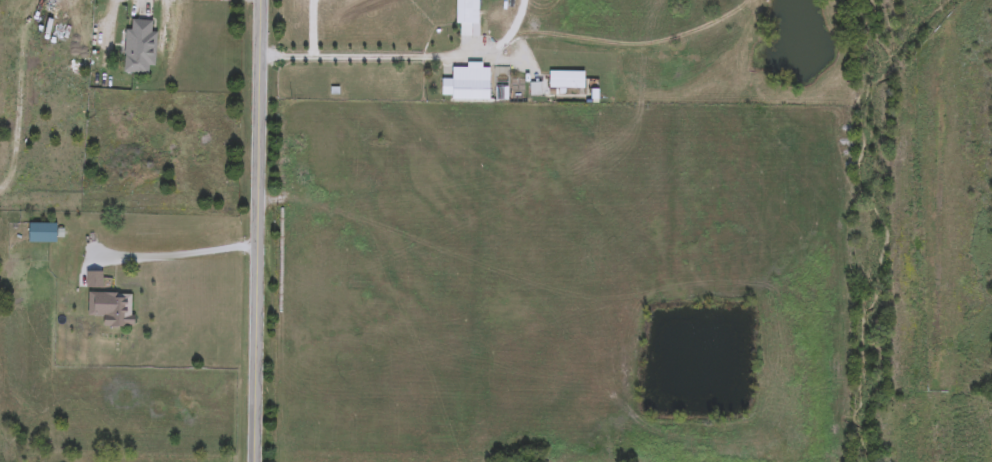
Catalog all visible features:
building: (466, 17)
building: (139, 49)
road: (366, 63)
building: (565, 82)
building: (466, 86)
road: (259, 231)
building: (42, 235)
road: (179, 254)
building: (93, 282)
building: (110, 310)

